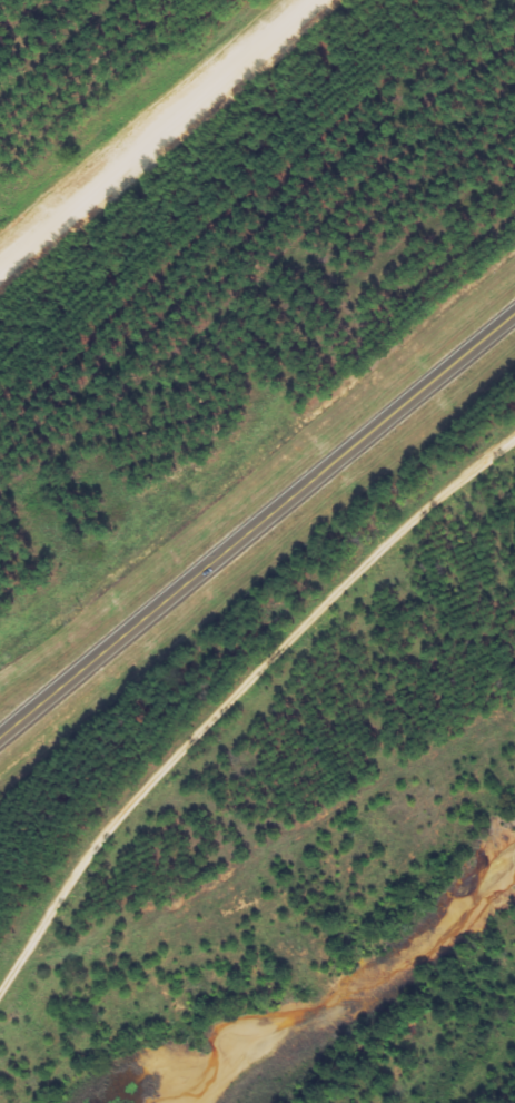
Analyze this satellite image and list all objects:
road: (152, 135)
road: (257, 523)

